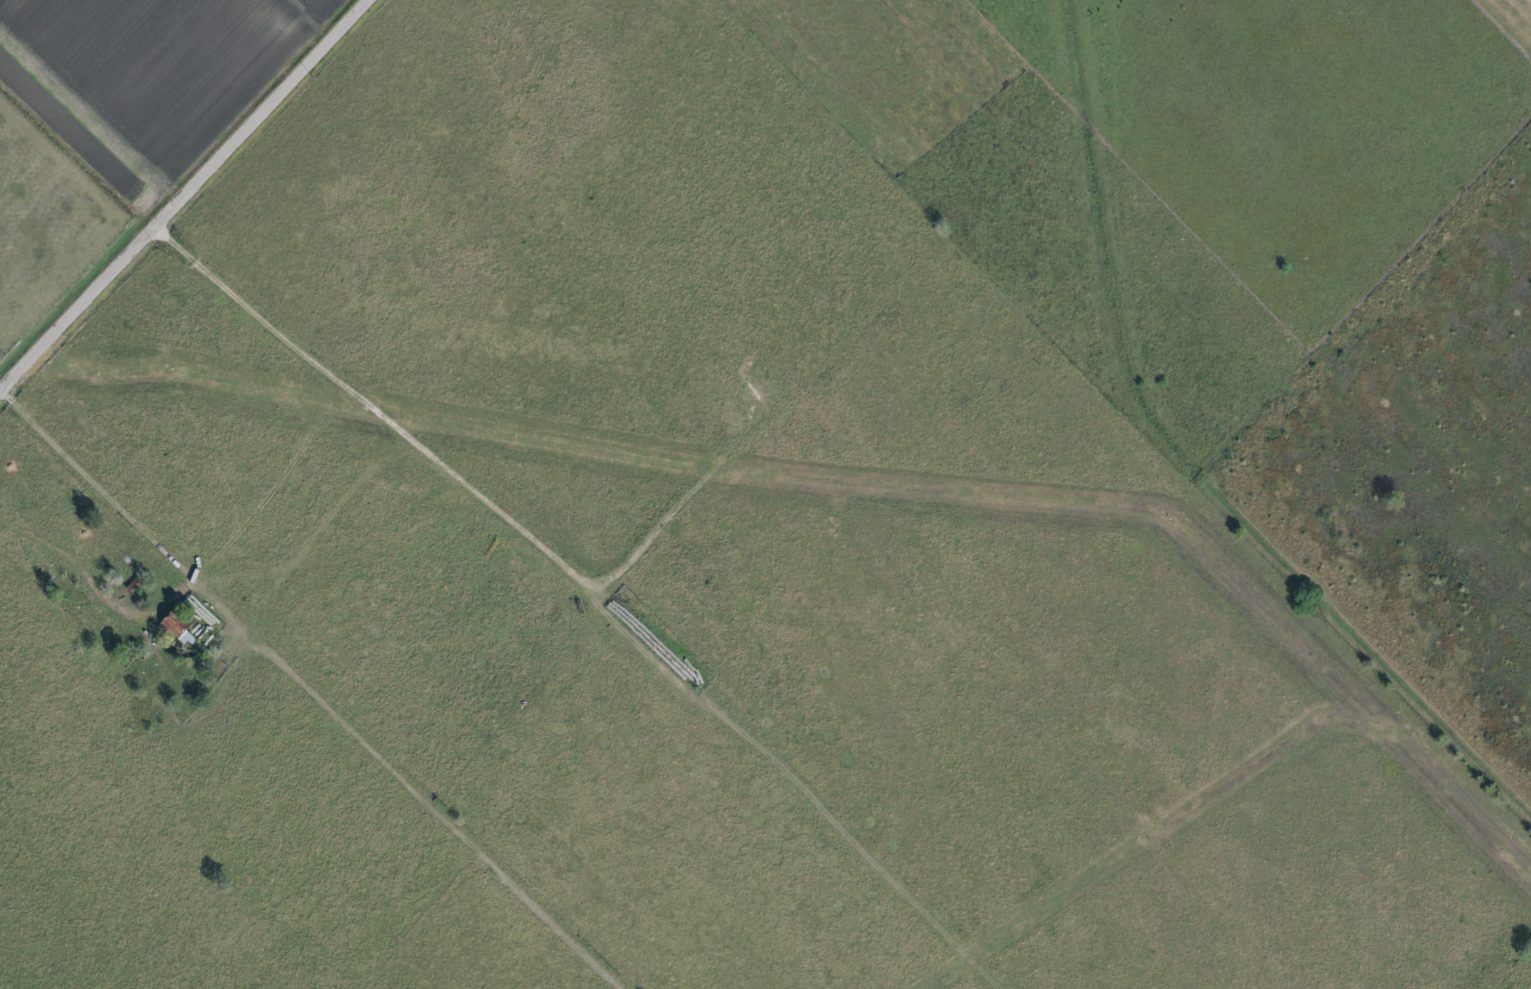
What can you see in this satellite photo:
road: (186, 197)
road: (71, 560)
building: (175, 627)
road: (315, 688)

